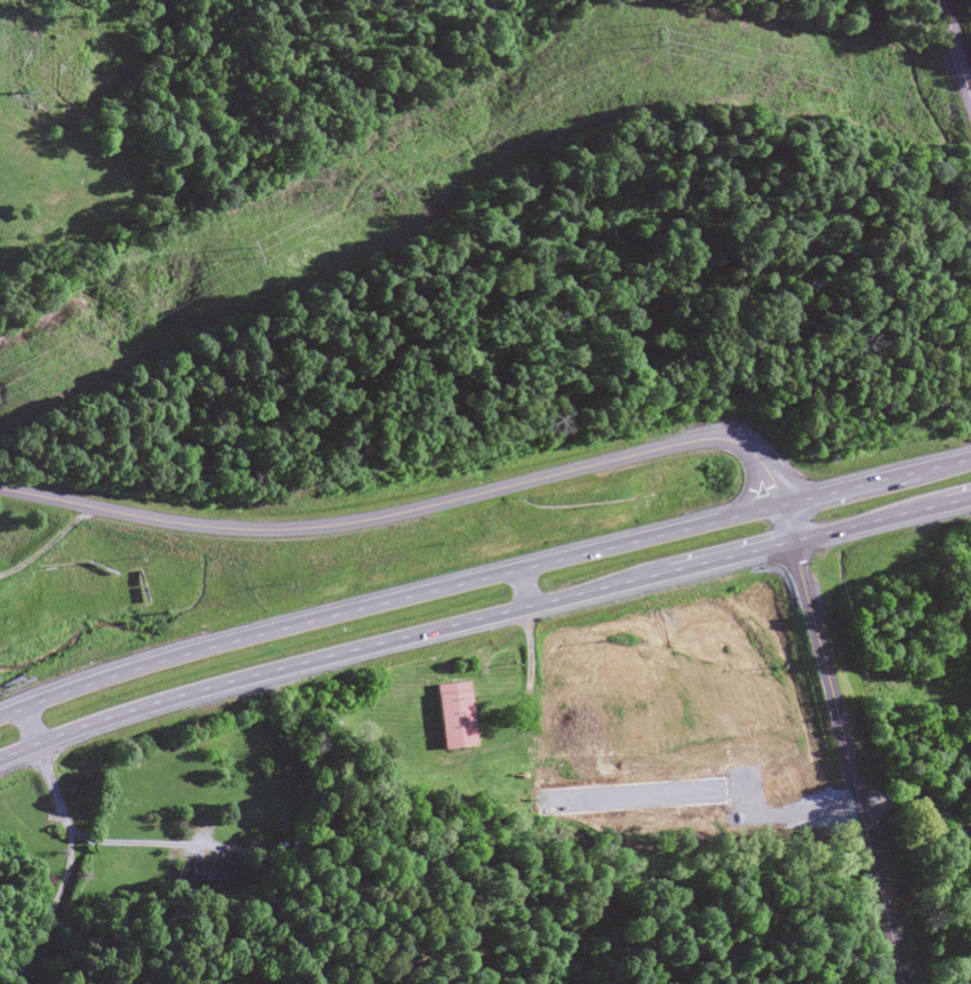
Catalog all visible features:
power tower: (651, 38)
road: (956, 51)
power tower: (241, 253)
road: (408, 512)
road: (47, 543)
road: (482, 579)
road: (482, 621)
building: (455, 713)
road: (842, 744)
road: (884, 802)
road: (943, 814)
building: (209, 874)

